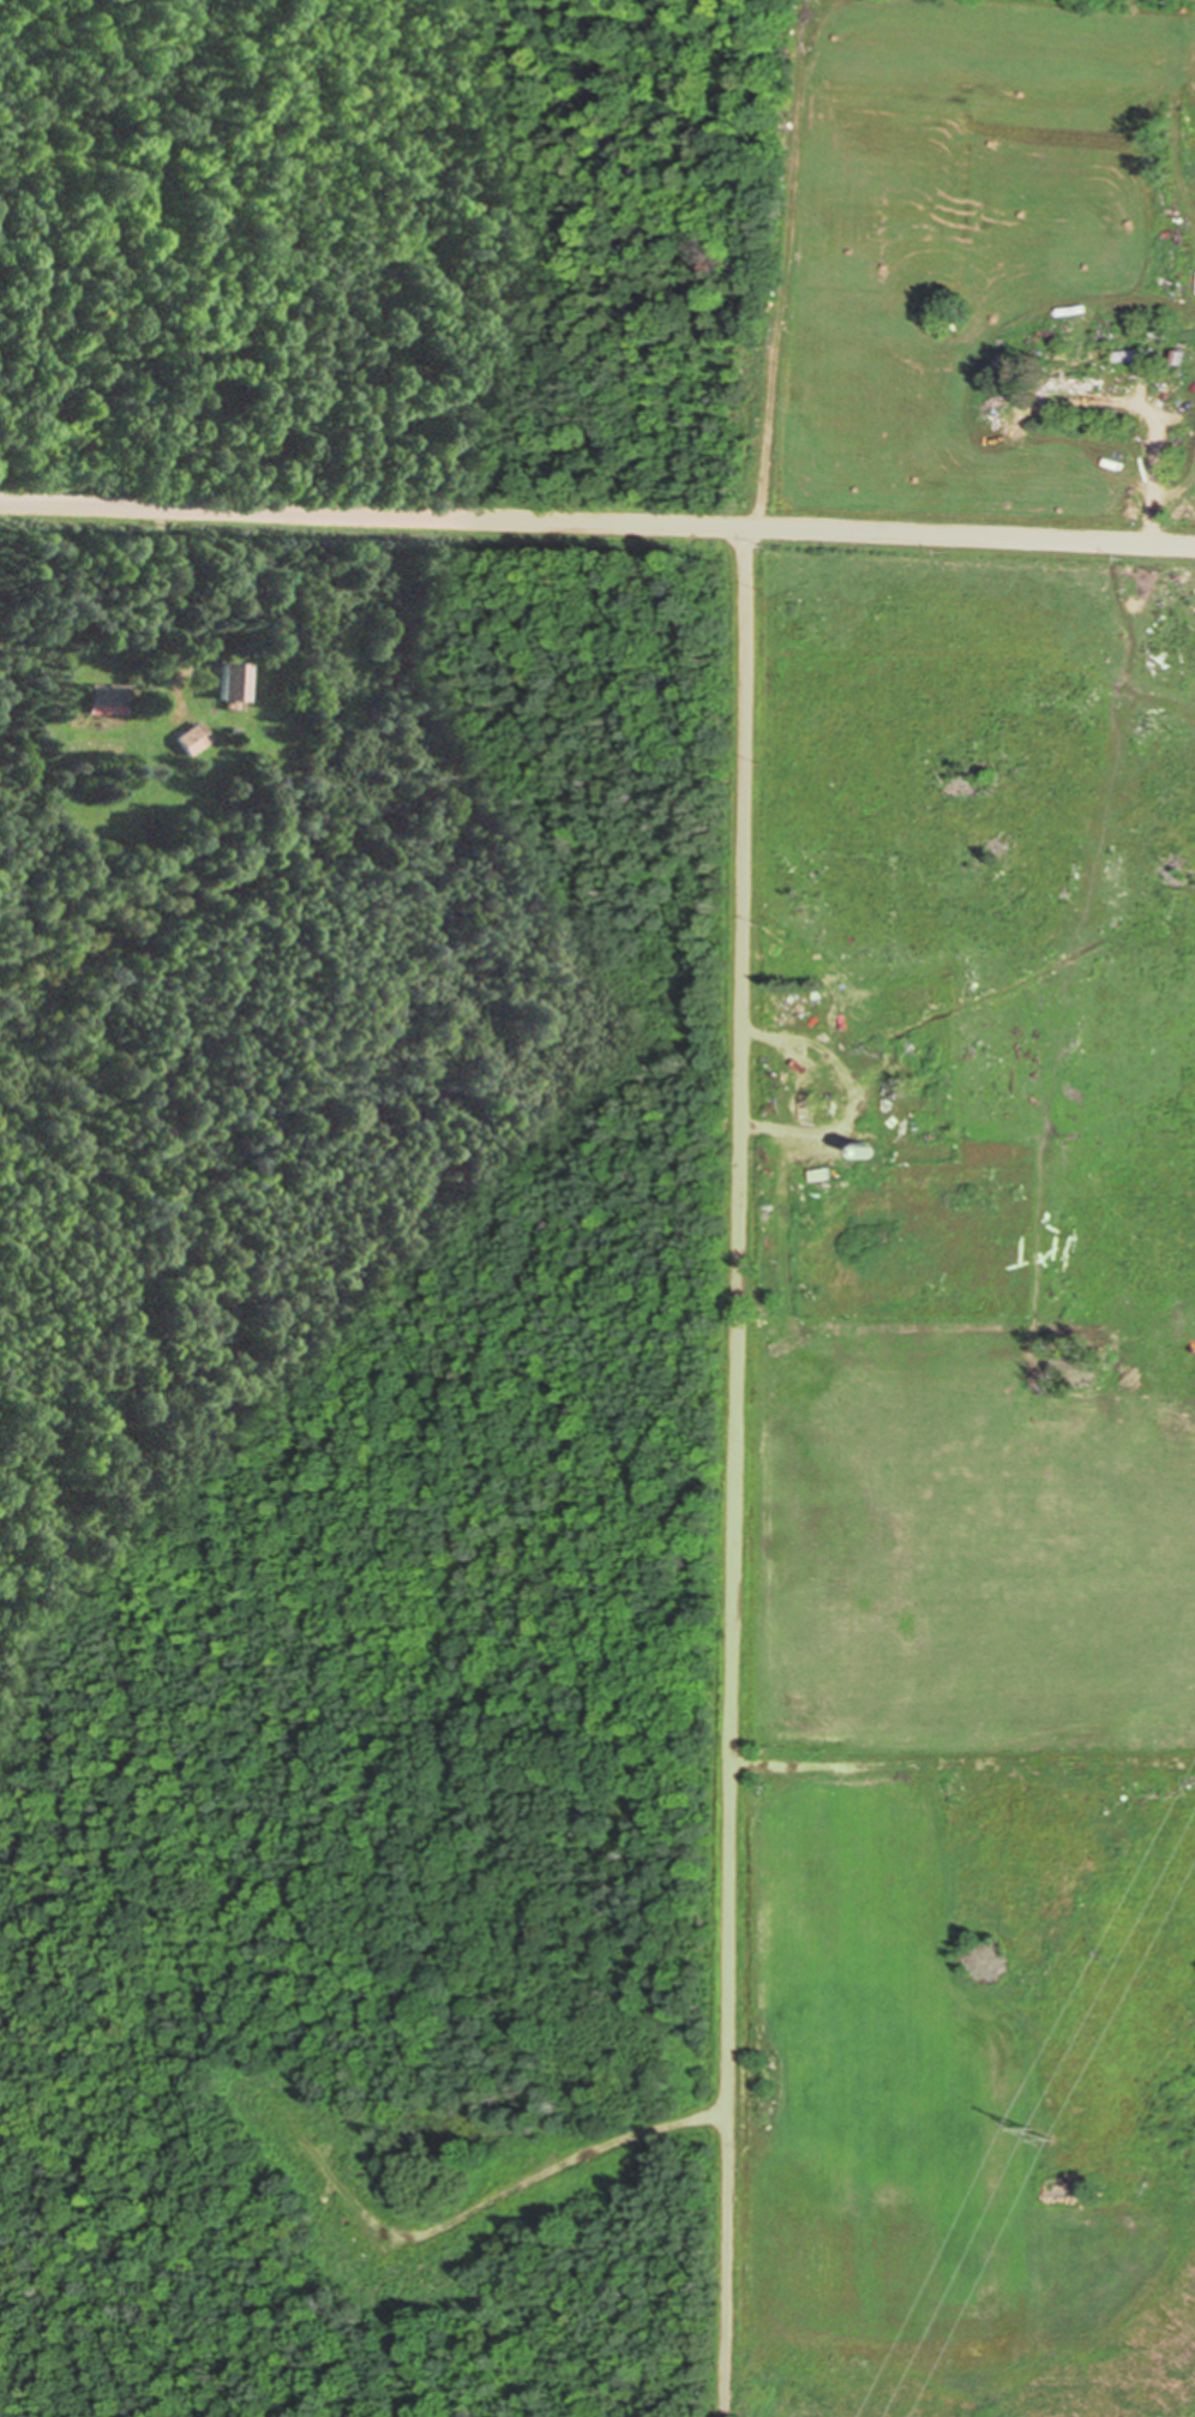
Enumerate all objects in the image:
building: (1137, 356)
building: (1077, 388)
road: (597, 521)
building: (235, 682)
building: (109, 696)
building: (193, 739)
building: (806, 1081)
road: (735, 1470)
crop: (968, 1487)

